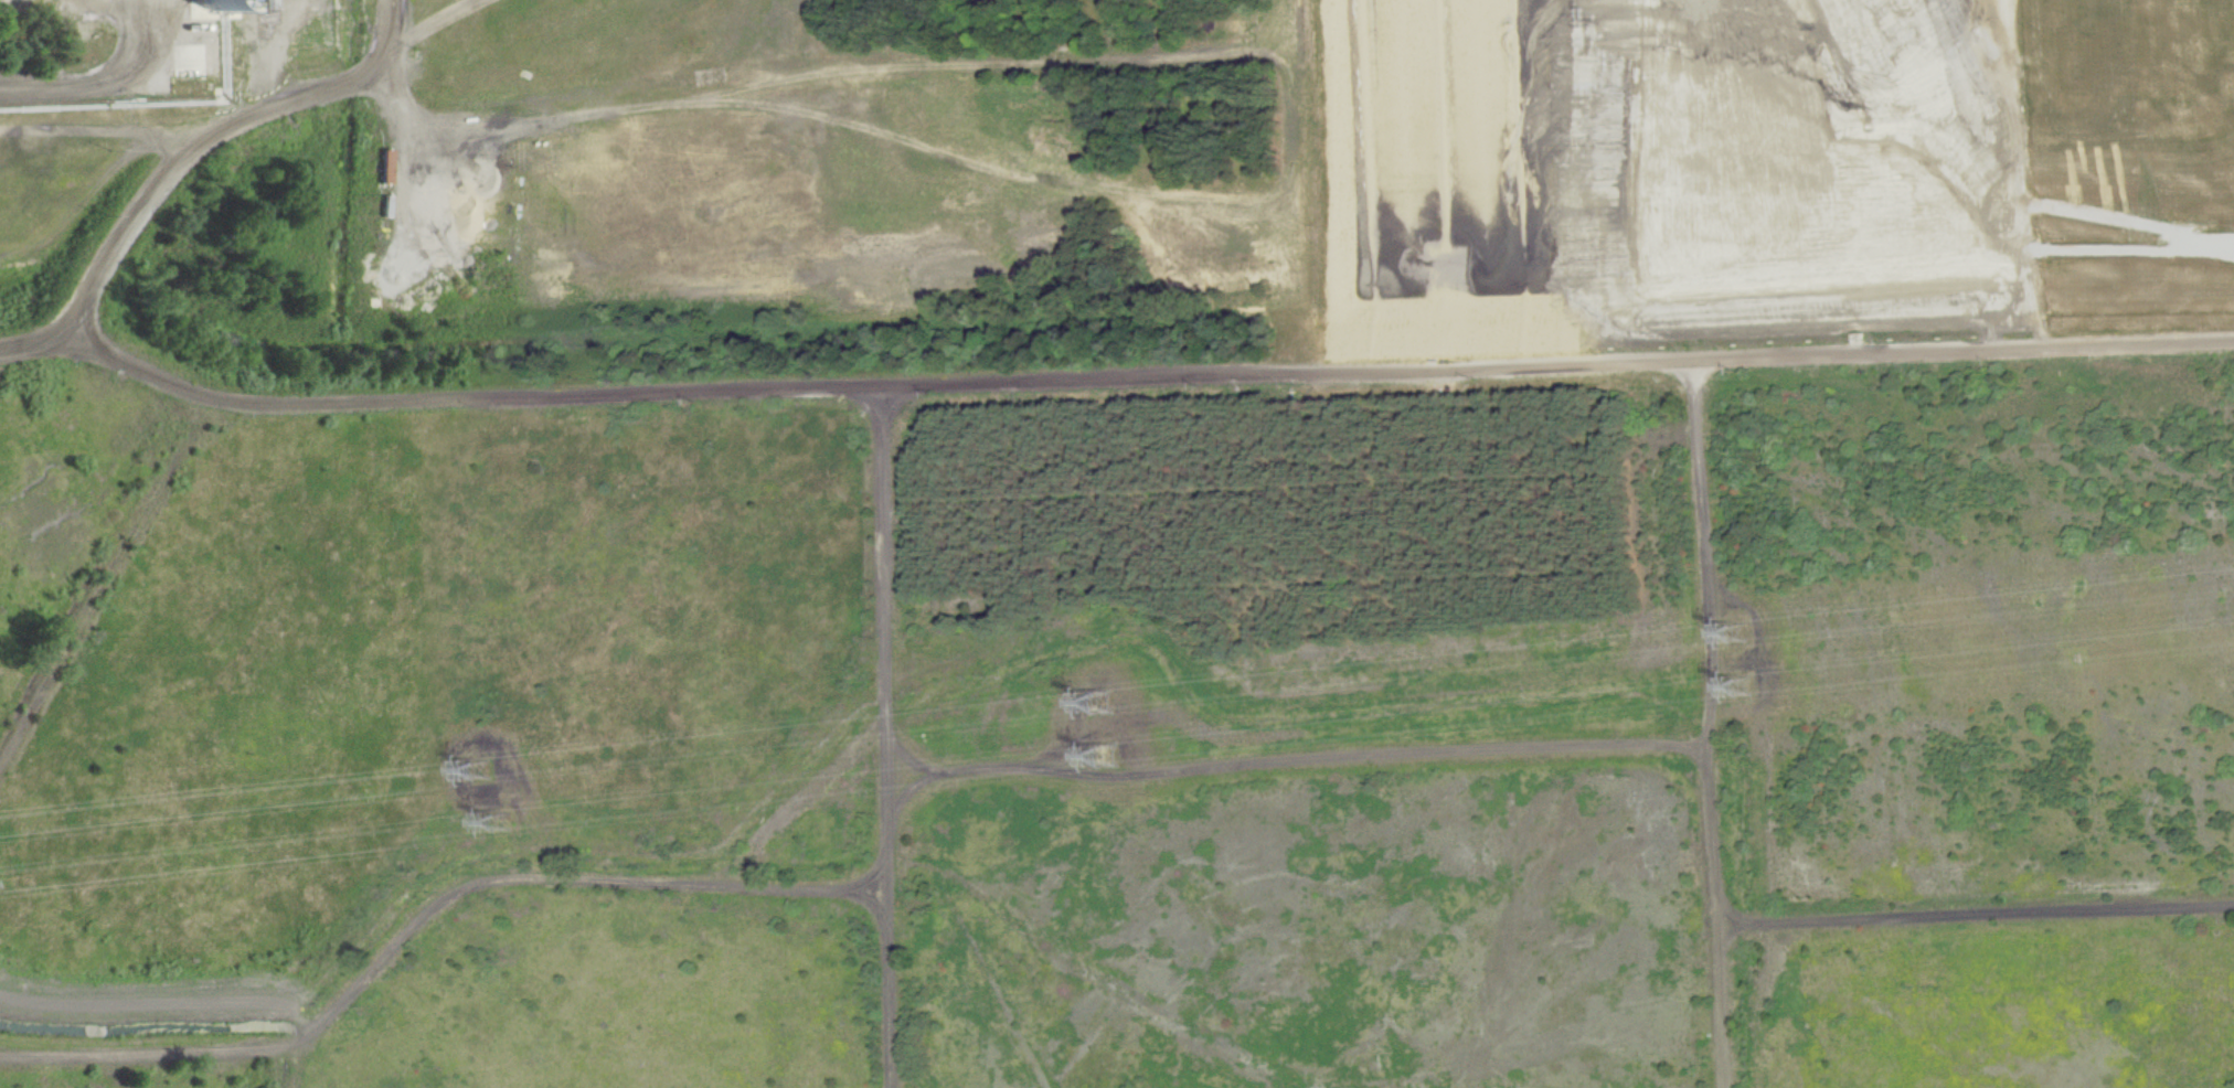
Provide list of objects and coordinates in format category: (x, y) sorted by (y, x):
road: (137, 45)
road: (70, 92)
road: (184, 157)
power tower: (1741, 634)
power tower: (1744, 687)
power tower: (1105, 705)
power tower: (1111, 756)
power tower: (485, 772)
power tower: (510, 823)

